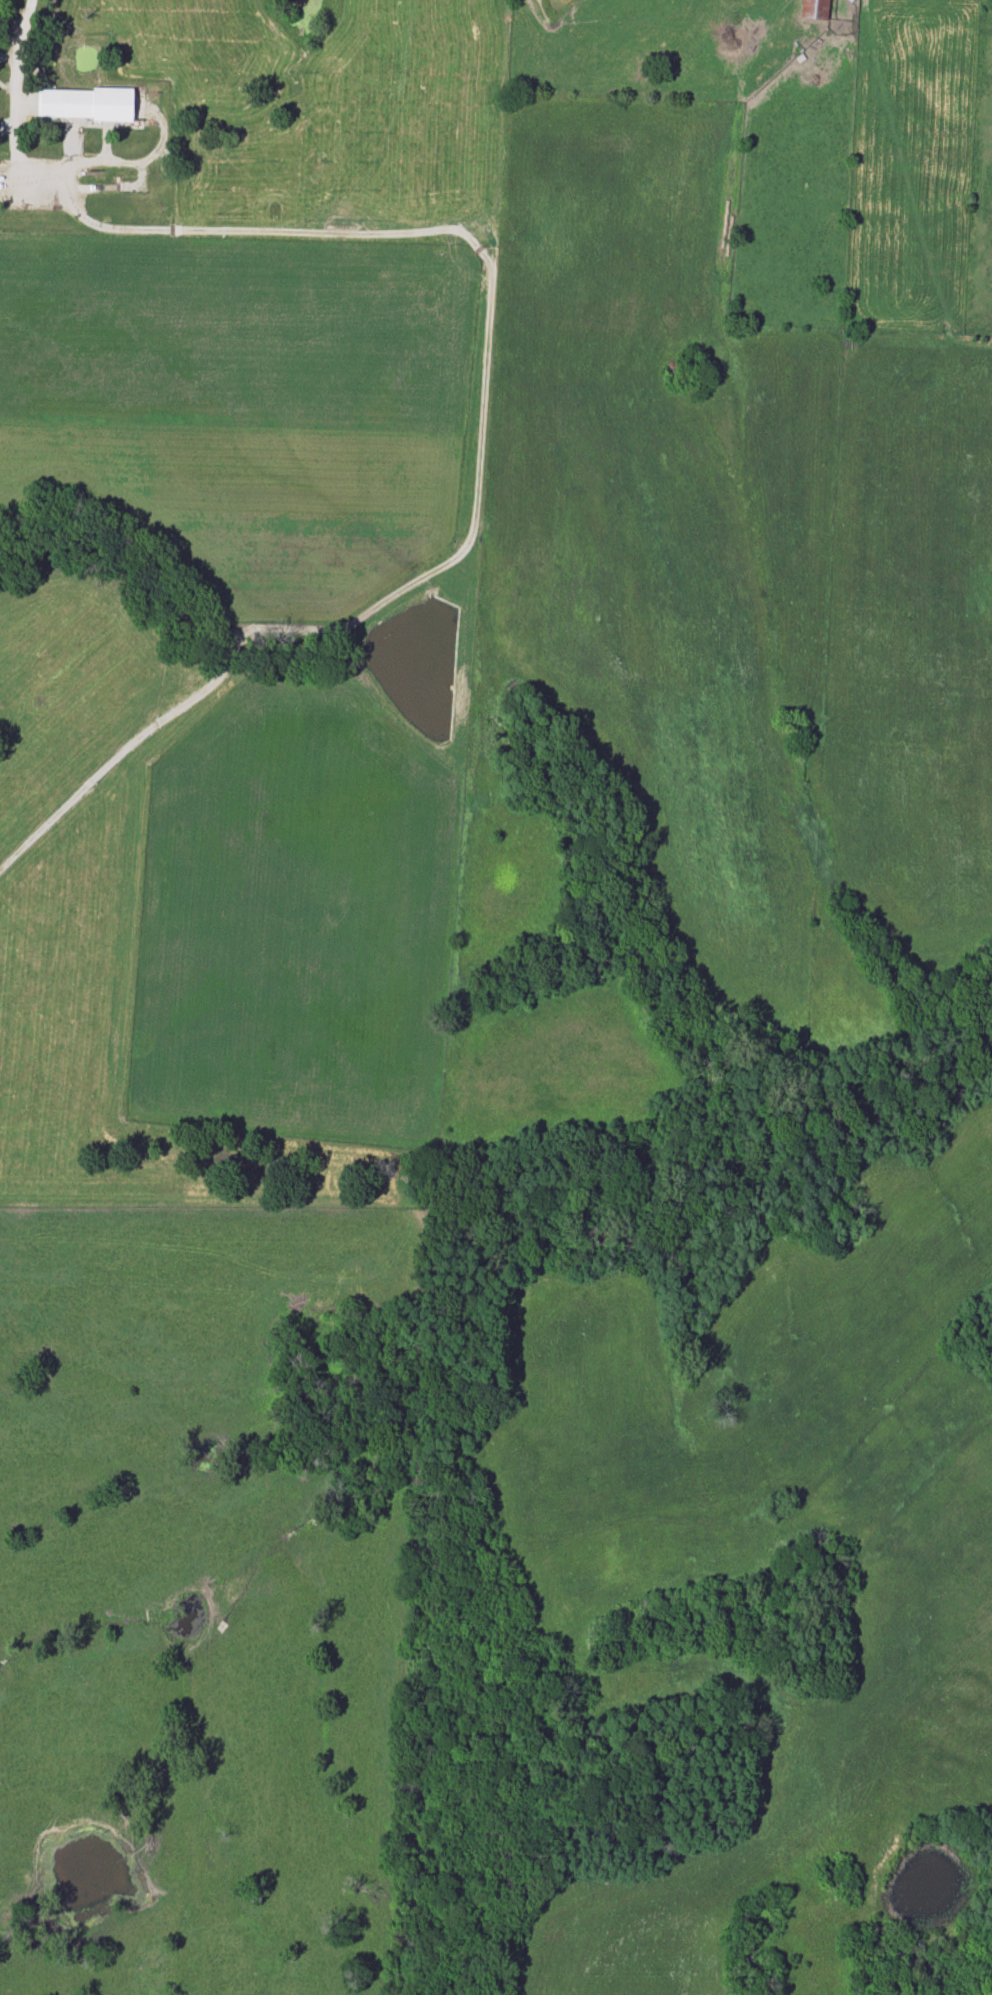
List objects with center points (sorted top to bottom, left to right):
building: (815, 10)
building: (85, 105)
road: (14, 108)

